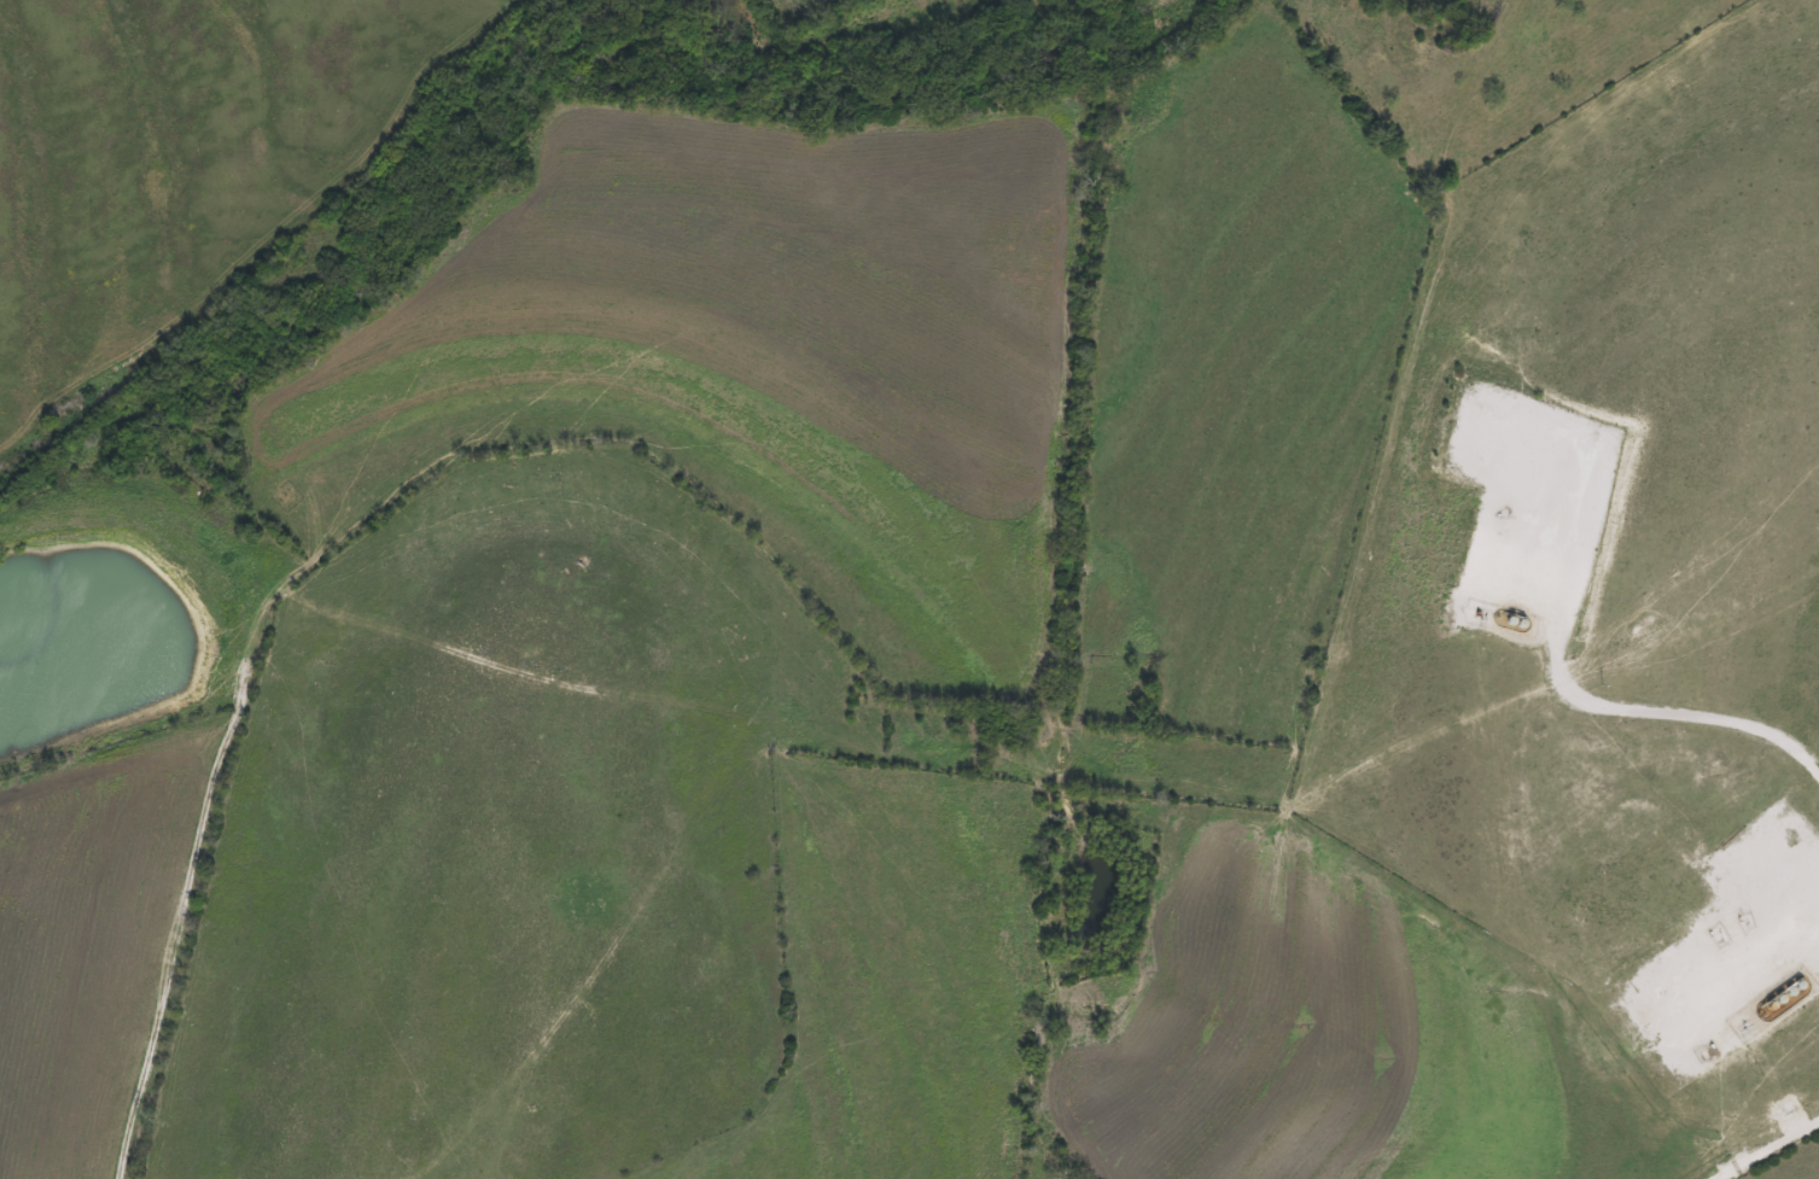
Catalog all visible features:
road: (1660, 712)
road: (1763, 1146)

